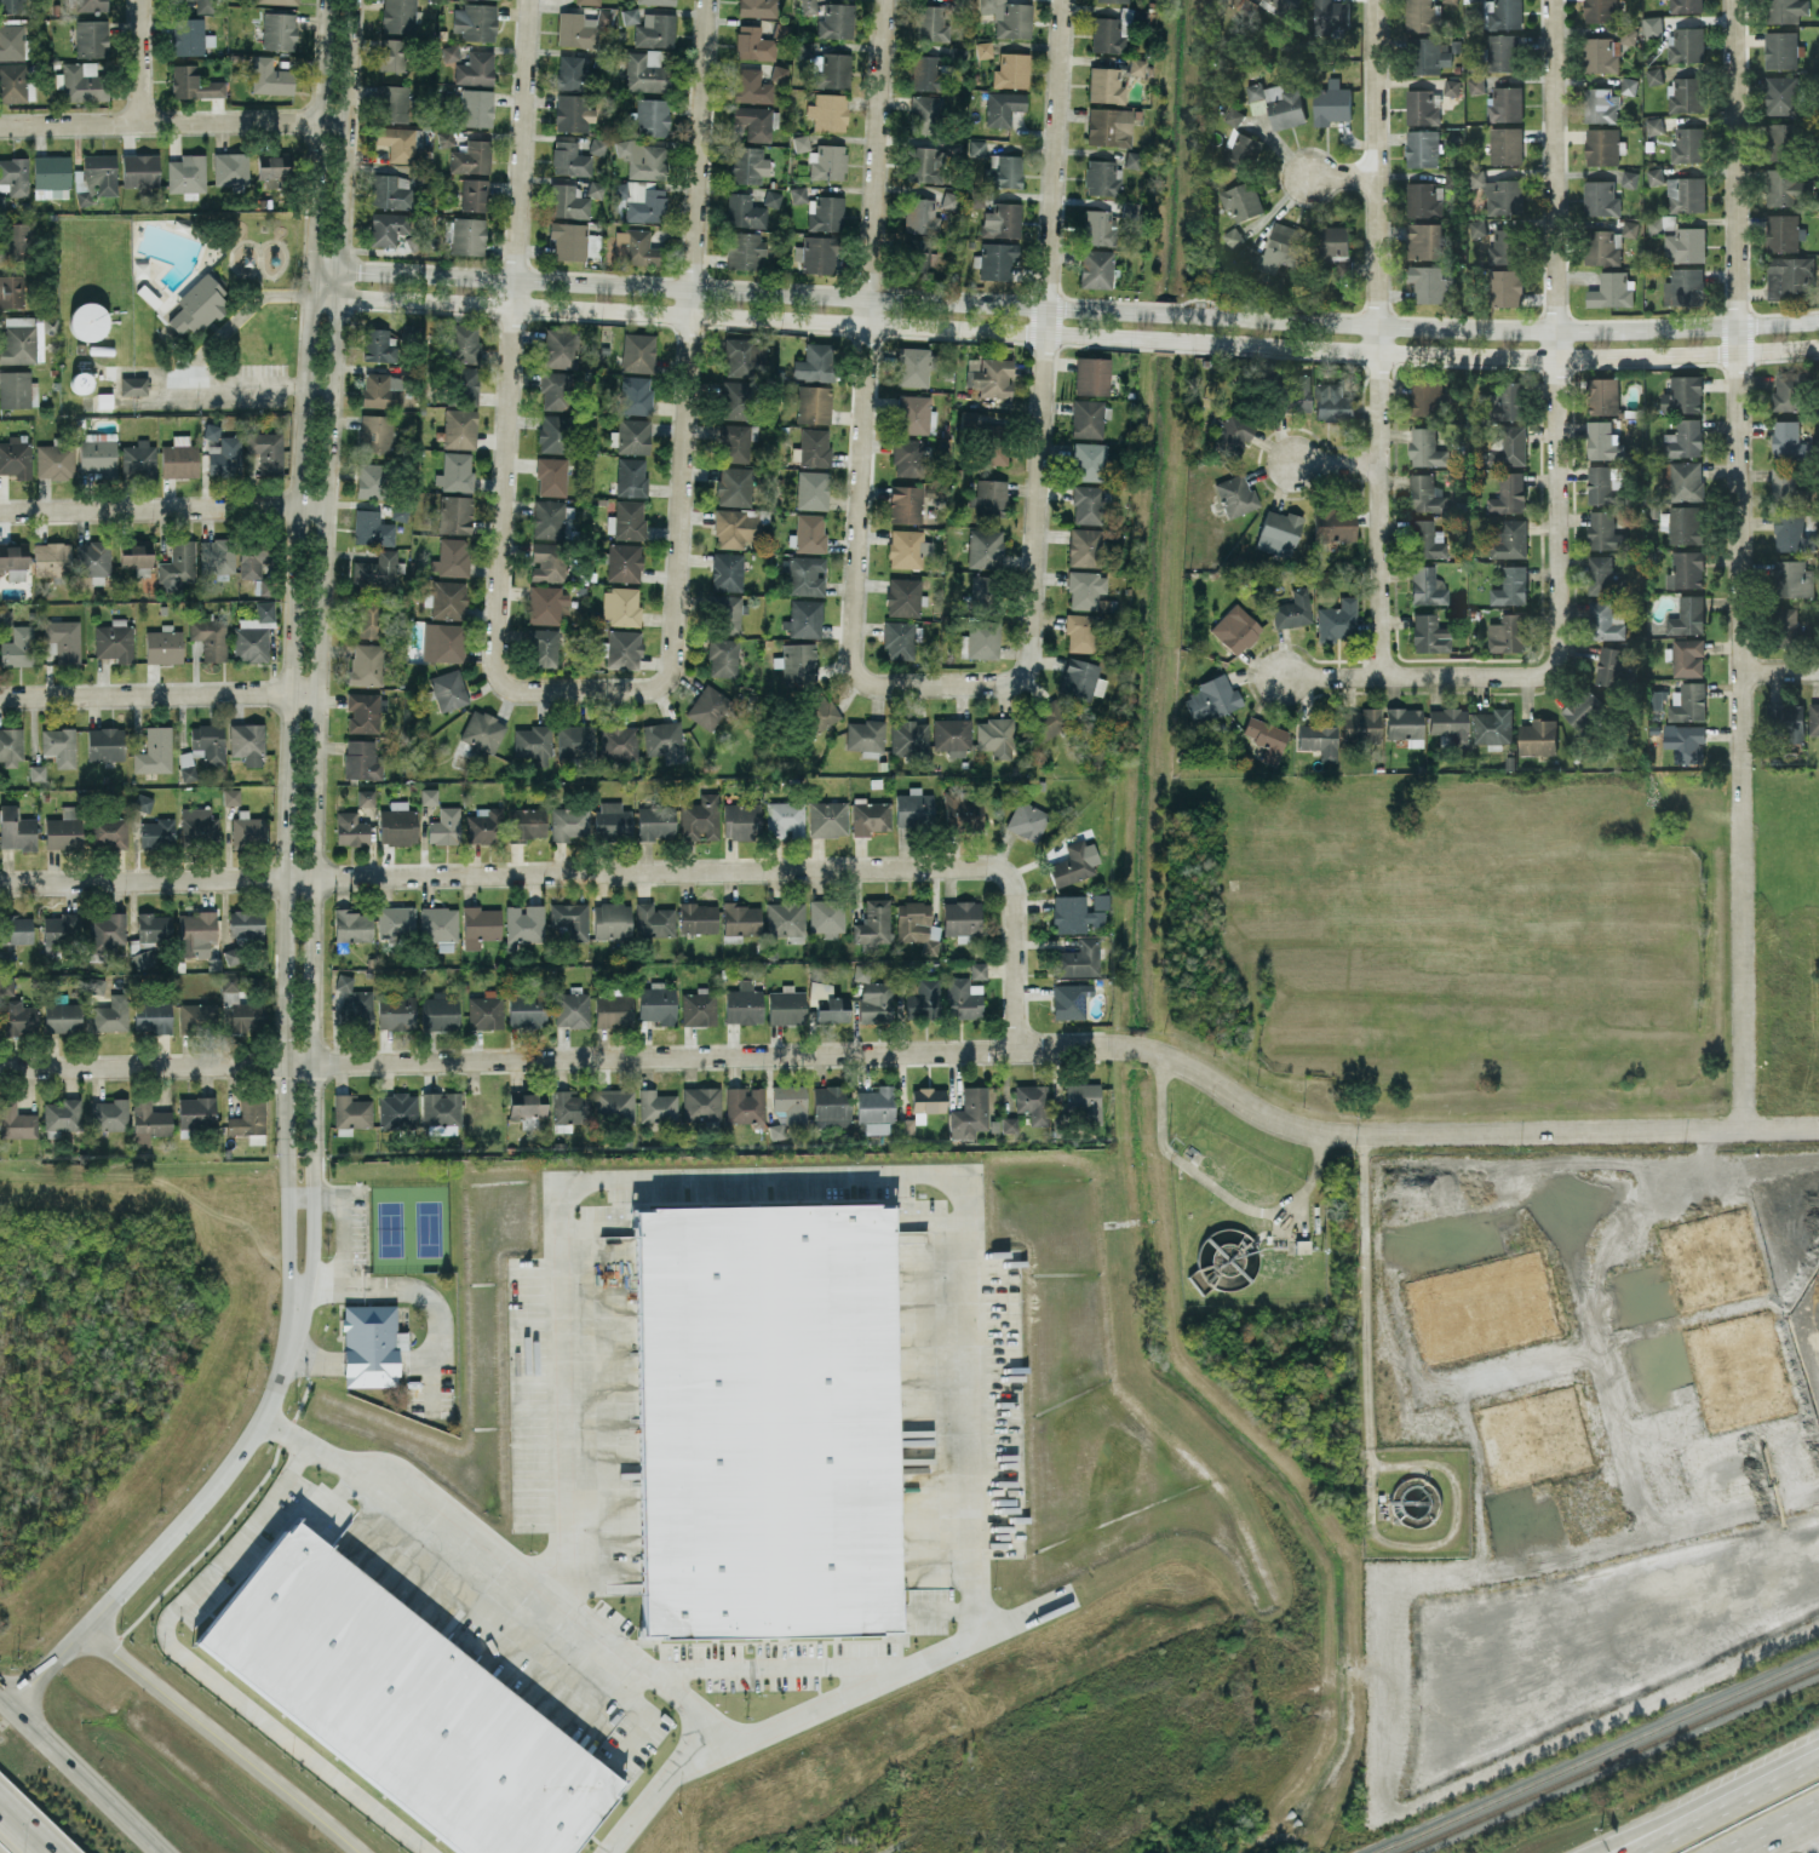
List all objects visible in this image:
building: (1114, 0)
building: (279, 1)
building: (587, 1)
building: (656, 1)
building: (88, 5)
building: (1685, 5)
building: (12, 6)
building: (206, 6)
building: (808, 6)
building: (1281, 6)
building: (758, 7)
building: (1600, 10)
building: (1784, 10)
building: (1502, 13)
building: (398, 15)
building: (1331, 15)
building: (1421, 15)
building: (604, 17)
building: (1009, 17)
building: (836, 19)
building: (475, 21)
building: (931, 22)
building: (1651, 25)
building: (575, 29)
building: (655, 29)
building: (277, 30)
building: (1107, 34)
building: (188, 35)
building: (91, 38)
building: (15, 41)
building: (1686, 42)
building: (753, 44)
building: (1779, 48)
building: (983, 50)
building: (1605, 50)
building: (449, 51)
building: (1502, 51)
building: (391, 53)
building: (1429, 53)
road: (142, 59)
building: (1136, 65)
building: (476, 68)
building: (831, 69)
building: (1011, 69)
building: (648, 70)
building: (572, 71)
building: (926, 73)
building: (1653, 74)
building: (270, 76)
building: (82, 81)
building: (15, 82)
building: (193, 82)
building: (1628, 84)
building: (1106, 85)
building: (1451, 85)
building: (751, 86)
building: (1686, 93)
building: (1781, 93)
building: (1331, 102)
building: (1505, 102)
building: (392, 103)
building: (1279, 103)
building: (1600, 104)
building: (1421, 105)
building: (476, 107)
building: (1003, 107)
building: (828, 110)
building: (573, 111)
building: (925, 113)
building: (1234, 115)
building: (650, 116)
road: (172, 120)
building: (754, 121)
building: (1653, 124)
building: (1108, 126)
building: (444, 138)
road: (521, 139)
building: (1781, 139)
building: (400, 142)
road: (698, 143)
building: (801, 143)
building: (1505, 143)
building: (1687, 143)
building: (976, 147)
building: (1422, 147)
road: (874, 148)
building: (1241, 149)
road: (1055, 153)
building: (471, 157)
building: (569, 159)
building: (643, 159)
building: (1131, 159)
road: (1377, 161)
building: (827, 162)
road: (1733, 162)
building: (747, 163)
building: (923, 163)
road: (1554, 163)
building: (230, 167)
building: (272, 168)
building: (140, 170)
building: (1003, 171)
building: (52, 173)
building: (15, 174)
building: (187, 174)
building: (1654, 174)
road: (1344, 176)
building: (97, 177)
building: (1101, 177)
building: (1629, 177)
building: (1784, 185)
building: (595, 188)
building: (390, 190)
building: (619, 190)
building: (1499, 193)
building: (1686, 193)
building: (474, 194)
building: (798, 194)
building: (1600, 196)
building: (1241, 199)
building: (1423, 199)
building: (567, 201)
building: (647, 206)
building: (745, 211)
building: (825, 212)
building: (918, 214)
building: (1003, 220)
building: (1654, 223)
building: (1476, 225)
building: (1097, 226)
building: (1629, 226)
building: (388, 228)
building: (1781, 230)
building: (466, 235)
building: (1233, 236)
building: (18, 239)
building: (1424, 239)
building: (568, 240)
building: (1331, 241)
building: (1685, 243)
building: (1503, 245)
building: (1602, 246)
building: (636, 247)
building: (744, 248)
building: (1275, 248)
building: (815, 253)
building: (923, 254)
building: (995, 259)
building: (1095, 268)
building: (1789, 274)
building: (1429, 282)
building: (1505, 286)
building: (1683, 286)
building: (1611, 288)
building: (11, 289)
building: (199, 305)
road: (1062, 306)
building: (88, 320)
road: (235, 321)
road: (1062, 333)
building: (19, 340)
building: (464, 342)
building: (378, 344)
building: (560, 348)
building: (638, 351)
building: (742, 355)
building: (815, 362)
building: (913, 365)
building: (989, 375)
building: (1091, 375)
building: (133, 384)
building: (465, 384)
road: (246, 385)
building: (17, 389)
building: (1788, 389)
building: (555, 390)
building: (379, 391)
building: (1296, 391)
building: (1603, 394)
building: (1682, 394)
building: (633, 395)
building: (1429, 397)
building: (735, 398)
building: (104, 400)
building: (1507, 400)
building: (1332, 401)
building: (813, 403)
building: (914, 414)
building: (1086, 418)
building: (459, 428)
building: (211, 430)
building: (375, 432)
building: (552, 432)
building: (633, 435)
building: (1232, 435)
building: (1683, 437)
building: (1602, 438)
building: (1789, 440)
building: (736, 441)
building: (993, 443)
building: (814, 446)
building: (1425, 446)
building: (1509, 446)
building: (265, 449)
building: (98, 454)
building: (16, 455)
building: (224, 455)
building: (179, 457)
building: (908, 457)
building: (138, 459)
building: (54, 460)
building: (1088, 460)
road: (1336, 461)
building: (457, 470)
building: (551, 476)
building: (631, 476)
building: (368, 478)
building: (1683, 478)
building: (1603, 484)
building: (734, 486)
building: (1786, 486)
building: (813, 489)
building: (1508, 492)
building: (1424, 493)
building: (1235, 494)
building: (989, 497)
road: (1555, 498)
road: (1378, 500)
building: (905, 503)
building: (1086, 503)
road: (161, 507)
road: (677, 511)
building: (454, 514)
building: (551, 517)
building: (626, 520)
building: (1333, 523)
building: (1681, 523)
building: (372, 527)
building: (735, 527)
road: (1038, 529)
building: (1605, 530)
building: (1792, 530)
building: (1279, 532)
building: (809, 533)
road: (855, 537)
road: (503, 538)
building: (1509, 538)
building: (1424, 540)
building: (1084, 546)
building: (905, 547)
building: (985, 547)
building: (136, 555)
building: (217, 555)
building: (451, 557)
building: (51, 558)
building: (92, 558)
building: (13, 560)
building: (252, 560)
building: (547, 561)
building: (624, 562)
building: (178, 564)
building: (1685, 568)
building: (377, 569)
building: (727, 570)
building: (804, 575)
building: (1602, 575)
building: (1792, 576)
building: (1427, 585)
building: (1510, 585)
building: (1085, 589)
building: (982, 590)
building: (903, 596)
building: (448, 598)
building: (546, 604)
building: (621, 606)
building: (1292, 609)
building: (265, 610)
building: (727, 613)
building: (1687, 614)
building: (5, 615)
building: (368, 616)
building: (805, 618)
building: (1337, 619)
building: (1605, 619)
building: (1786, 625)
building: (1235, 629)
building: (1080, 632)
building: (1507, 632)
building: (1428, 633)
building: (210, 637)
building: (62, 639)
building: (251, 639)
building: (900, 639)
building: (981, 639)
building: (115, 641)
building: (442, 642)
building: (163, 644)
building: (18, 646)
building: (543, 647)
building: (621, 648)
road: (288, 649)
road: (317, 649)
building: (1687, 655)
building: (723, 656)
building: (797, 661)
building: (366, 664)
building: (1609, 665)
road: (1779, 669)
road: (1416, 676)
building: (1080, 678)
building: (448, 689)
road: (157, 695)
building: (1210, 699)
building: (1688, 700)
building: (707, 706)
building: (1583, 707)
building: (820, 708)
building: (366, 711)
building: (1813, 717)
building: (1785, 718)
building: (1046, 719)
building: (1450, 723)
building: (1404, 724)
building: (1493, 724)
road: (1740, 724)
building: (1361, 725)
building: (483, 730)
building: (865, 734)
building: (952, 735)
building: (1538, 735)
building: (995, 736)
building: (909, 738)
building: (1266, 738)
building: (575, 740)
building: (664, 740)
building: (1319, 740)
building: (208, 741)
building: (618, 741)
building: (105, 742)
building: (247, 742)
building: (533, 742)
building: (1688, 742)
building: (59, 745)
building: (10, 746)
building: (154, 751)
building: (361, 758)
building: (36, 771)
building: (187, 773)
building: (231, 796)
building: (429, 796)
building: (366, 797)
building: (143, 802)
building: (913, 807)
building: (962, 810)
building: (870, 816)
building: (827, 817)
building: (699, 819)
building: (741, 819)
building: (785, 819)
building: (1026, 819)
building: (612, 820)
building: (655, 821)
building: (527, 822)
building: (569, 822)
building: (398, 824)
building: (199, 825)
building: (484, 825)
building: (444, 826)
building: (16, 828)
building: (351, 828)
building: (64, 830)
building: (108, 831)
building: (248, 831)
building: (157, 832)
building: (1073, 864)
road: (627, 872)
road: (155, 879)
building: (1100, 900)
building: (1073, 913)
building: (827, 916)
building: (698, 917)
building: (960, 917)
building: (570, 918)
building: (741, 918)
building: (785, 918)
building: (612, 919)
building: (396, 920)
building: (654, 920)
building: (246, 922)
building: (524, 922)
building: (438, 923)
building: (352, 924)
building: (873, 924)
building: (480, 925)
building: (917, 925)
road: (1016, 925)
building: (154, 926)
building: (18, 928)
building: (61, 928)
building: (105, 931)
building: (196, 933)
building: (6, 957)
building: (142, 958)
building: (1078, 958)
building: (977, 970)
building: (343, 981)
building: (96, 985)
building: (6, 986)
building: (872, 994)
building: (924, 998)
building: (962, 998)
building: (1068, 1000)
building: (658, 1003)
building: (742, 1003)
building: (786, 1005)
building: (241, 1006)
building: (699, 1006)
building: (360, 1008)
building: (833, 1008)
building: (572, 1009)
building: (613, 1009)
building: (396, 1011)
building: (440, 1012)
building: (111, 1014)
building: (197, 1015)
building: (62, 1016)
building: (153, 1016)
building: (19, 1017)
road: (1077, 1051)
road: (156, 1066)
building: (928, 1098)
building: (1084, 1101)
building: (790, 1102)
building: (1032, 1102)
building: (701, 1103)
building: (524, 1105)
building: (614, 1105)
building: (745, 1105)
building: (656, 1106)
building: (831, 1106)
building: (397, 1108)
building: (876, 1108)
building: (569, 1109)
building: (196, 1111)
building: (441, 1112)
building: (969, 1112)
building: (350, 1113)
building: (62, 1114)
building: (108, 1114)
building: (248, 1115)
building: (150, 1119)
building: (16, 1120)
building: (1008, 1124)
building: (906, 1125)
building: (776, 1130)
road: (775, 1175)
road: (1226, 1192)
park: (408, 1227)
road: (1376, 1323)
building: (371, 1344)
building: (765, 1419)
road: (190, 1522)
road: (504, 1570)
road: (769, 1665)
road: (200, 1671)
road: (826, 1700)
building: (404, 1704)
road: (220, 1740)
railway: (1591, 1751)
railway: (1606, 1759)
road: (84, 1772)
road: (1758, 1786)
road: (1818, 1807)
road: (1768, 1828)
road: (22, 1831)
road: (1643, 1834)
road: (1662, 1834)

